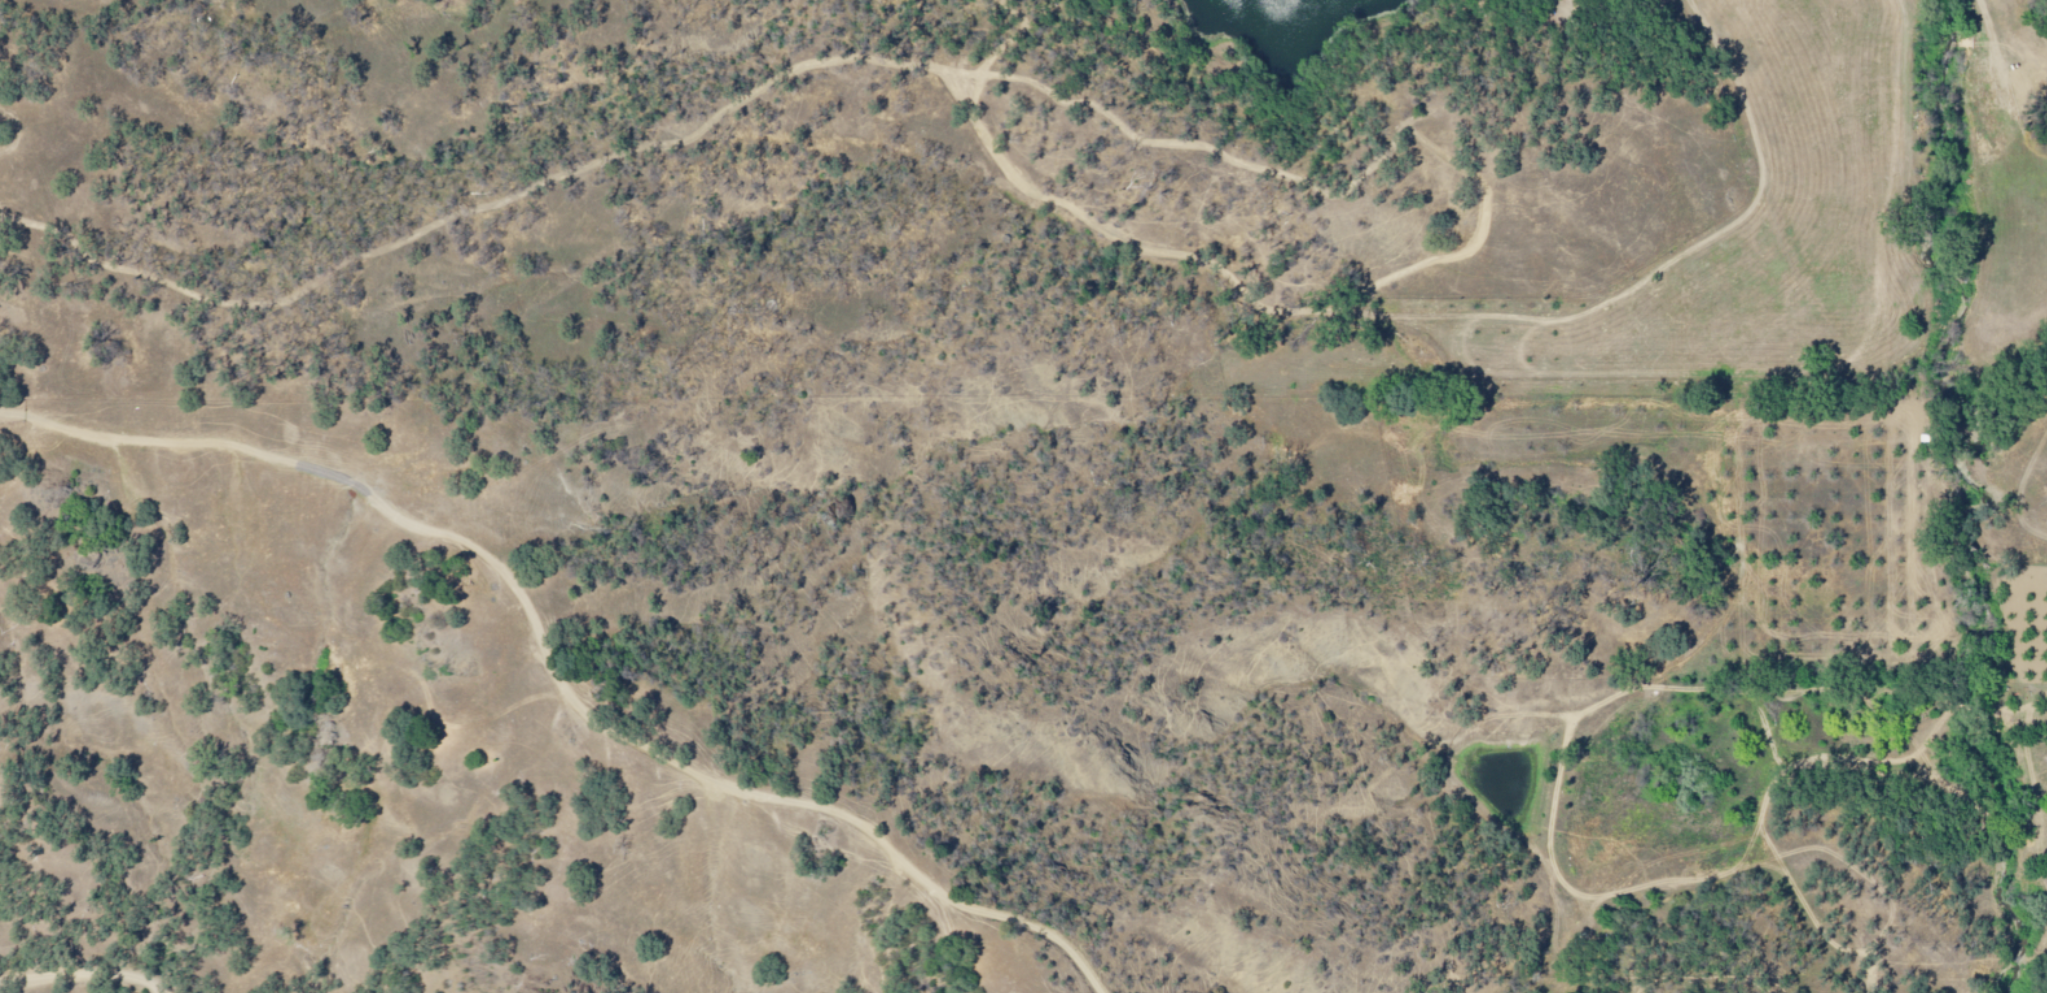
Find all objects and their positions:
road: (545, 645)
road: (1845, 682)
road: (79, 980)

